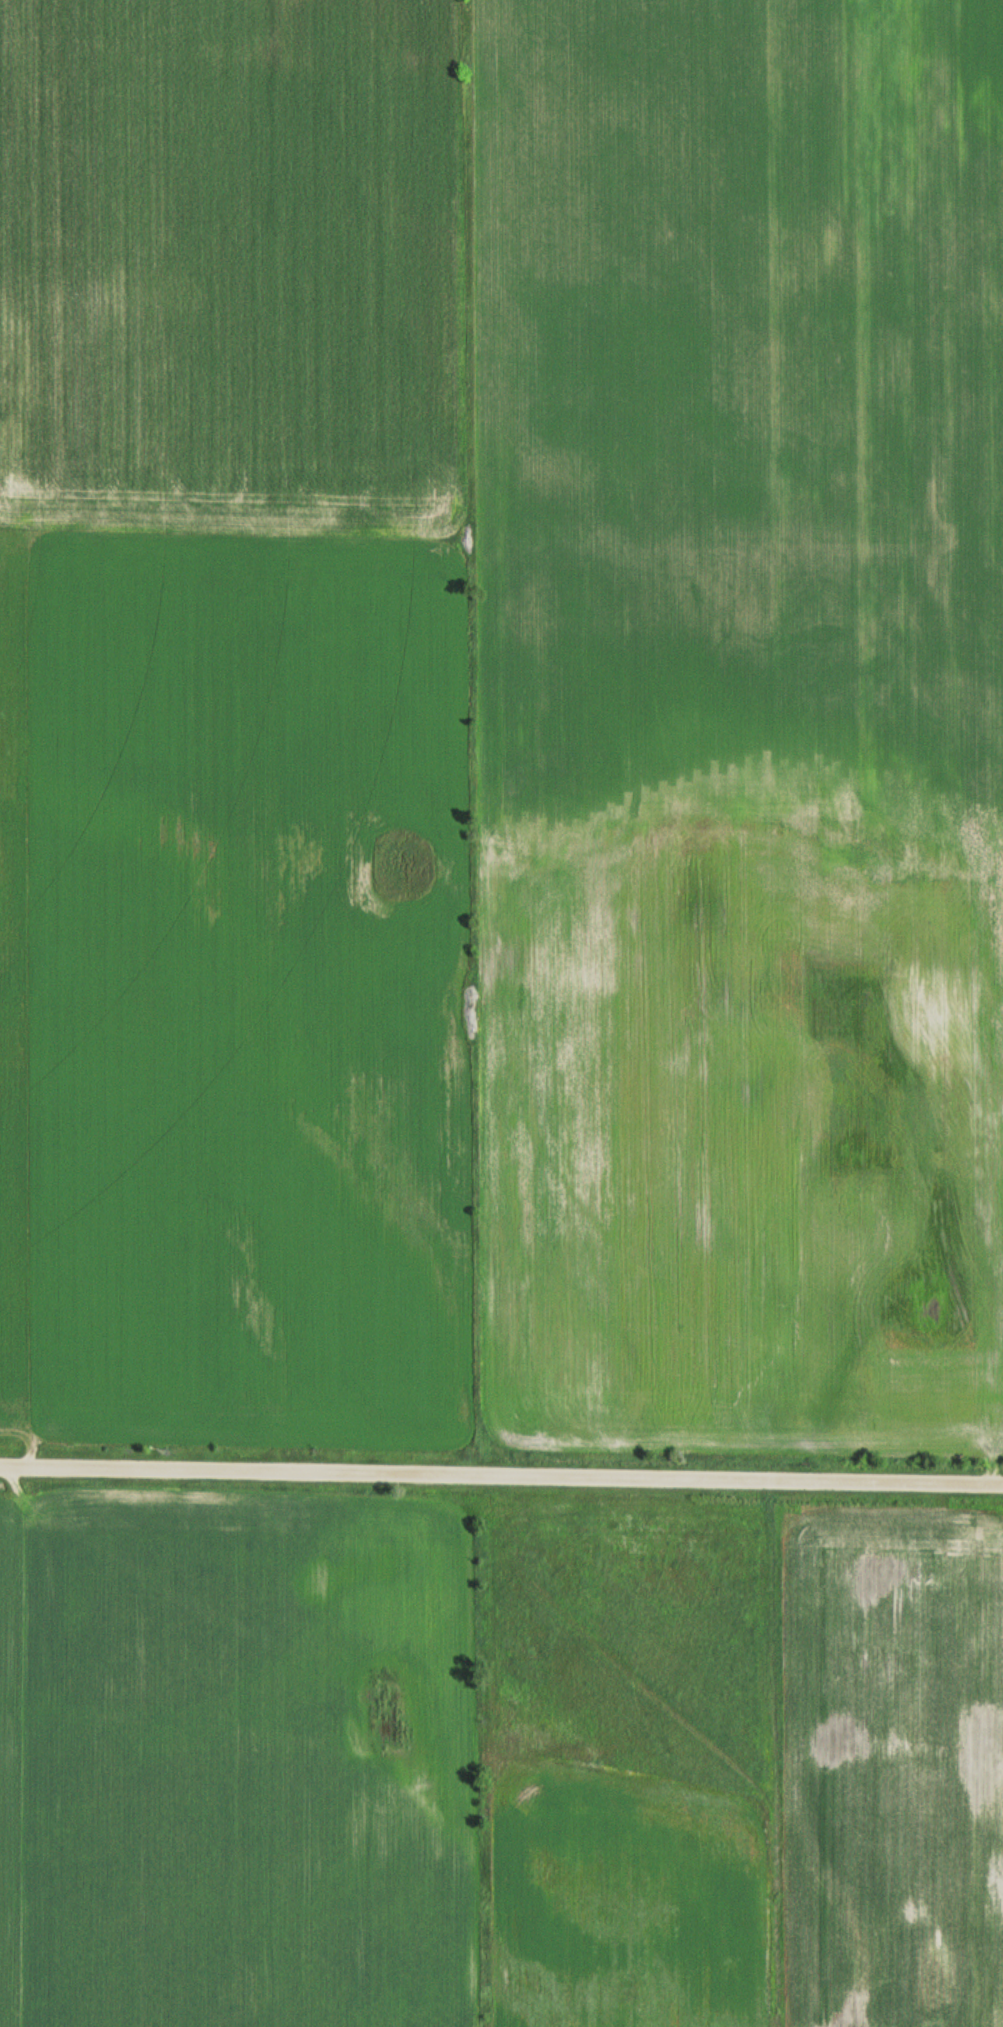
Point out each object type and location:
road: (501, 1473)

